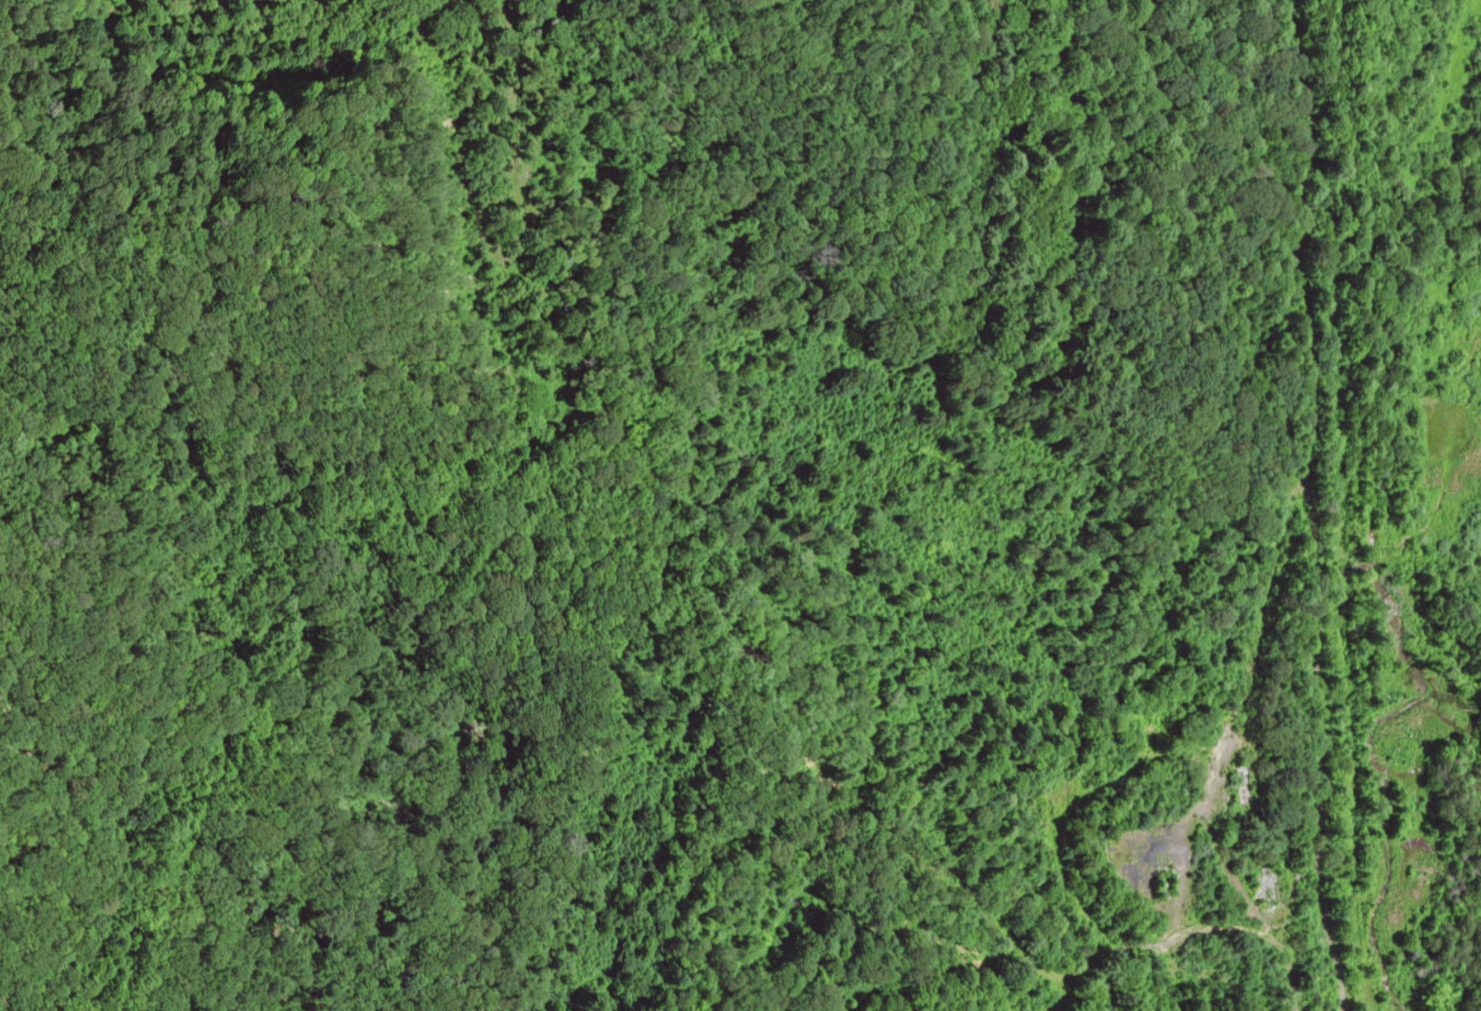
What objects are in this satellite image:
road: (1277, 538)
road: (1317, 722)
building: (1236, 988)

